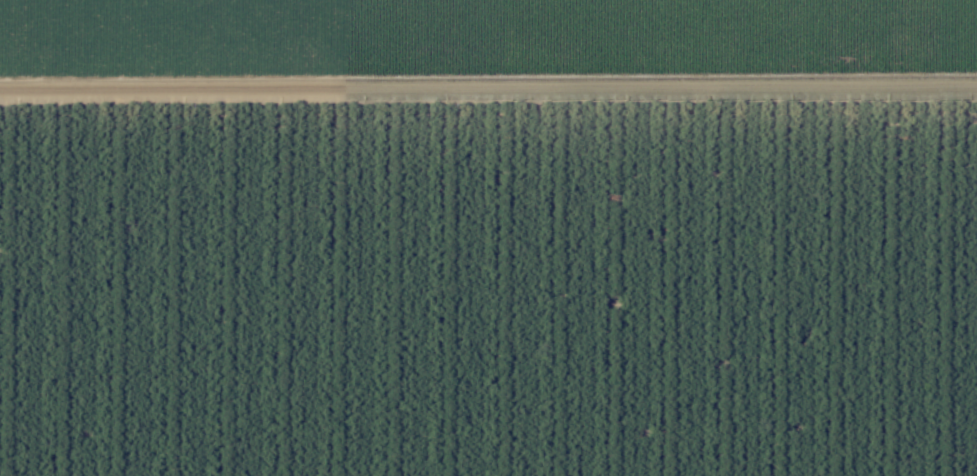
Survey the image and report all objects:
crop: (487, 61)
road: (488, 96)

